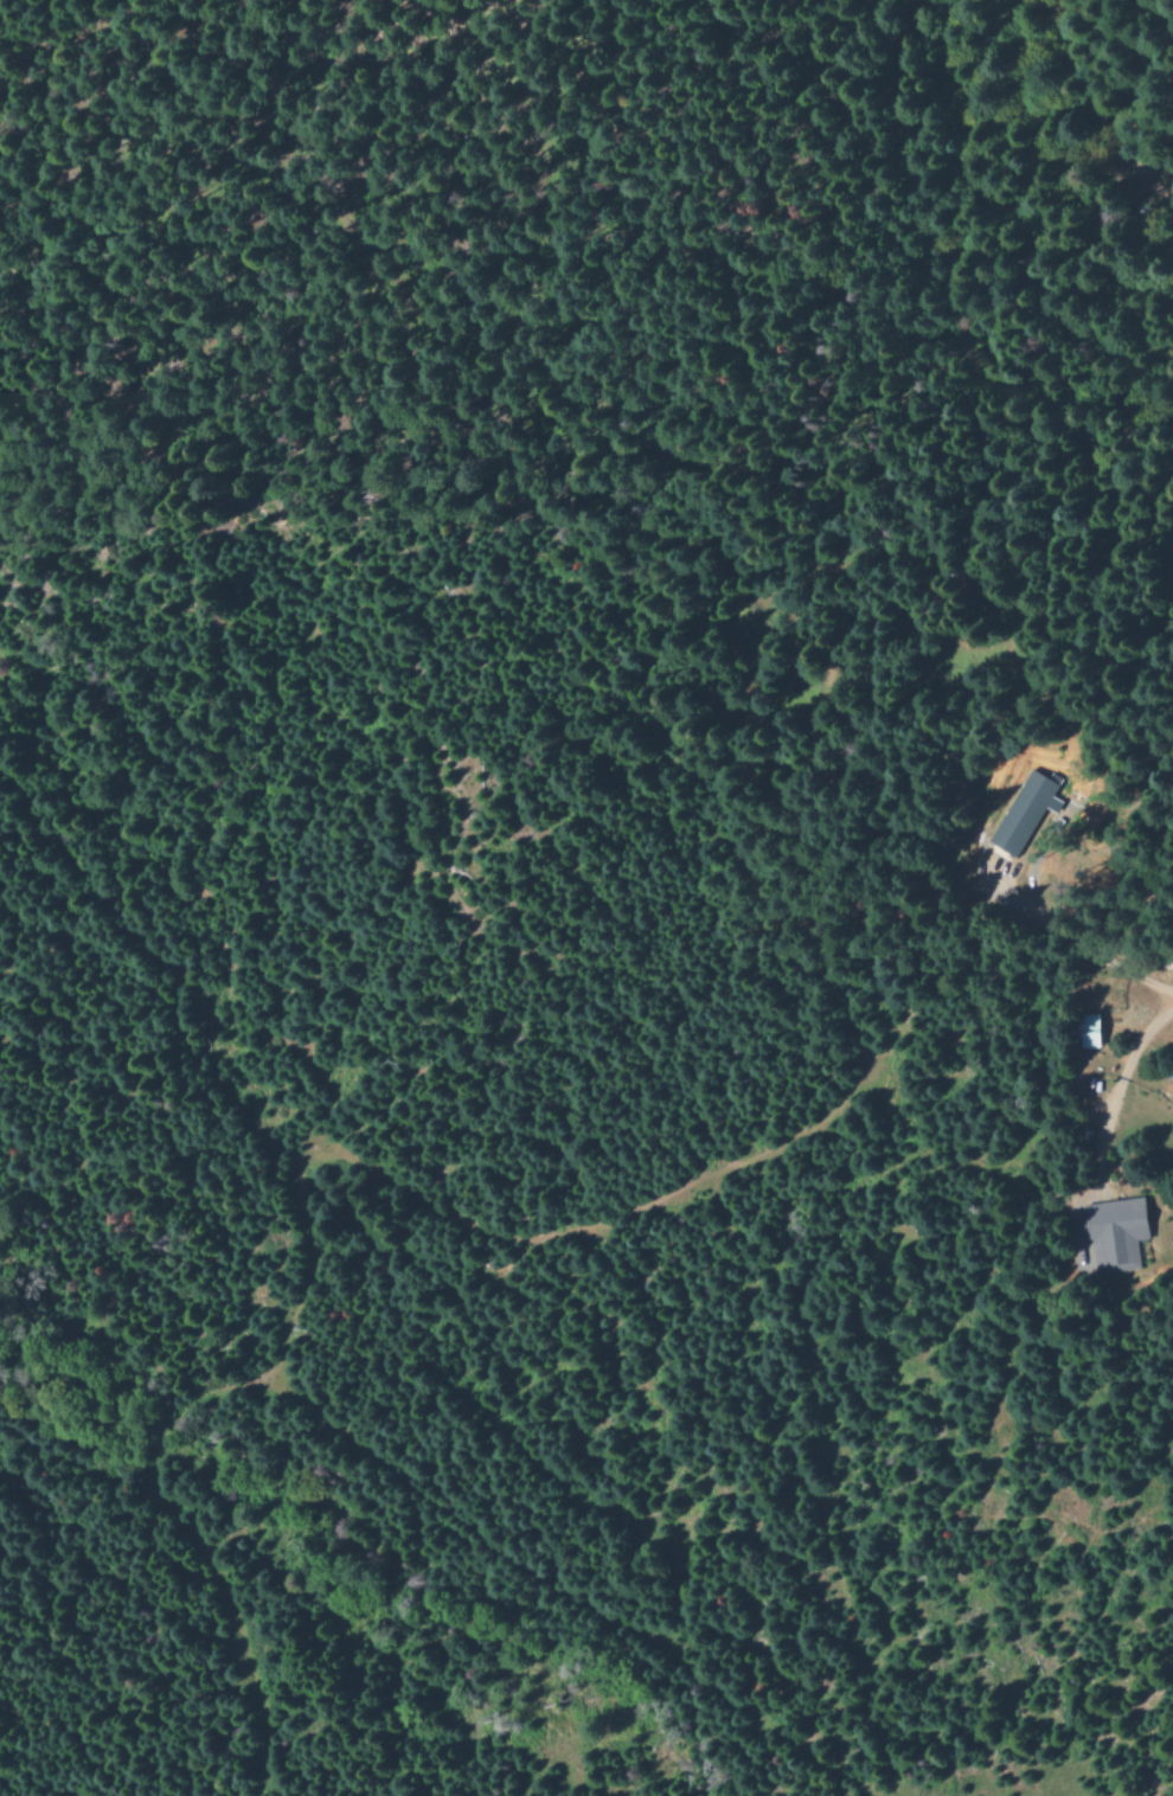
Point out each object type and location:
building: (1064, 795)
building: (1020, 813)
building: (1088, 1033)
building: (1117, 1233)

